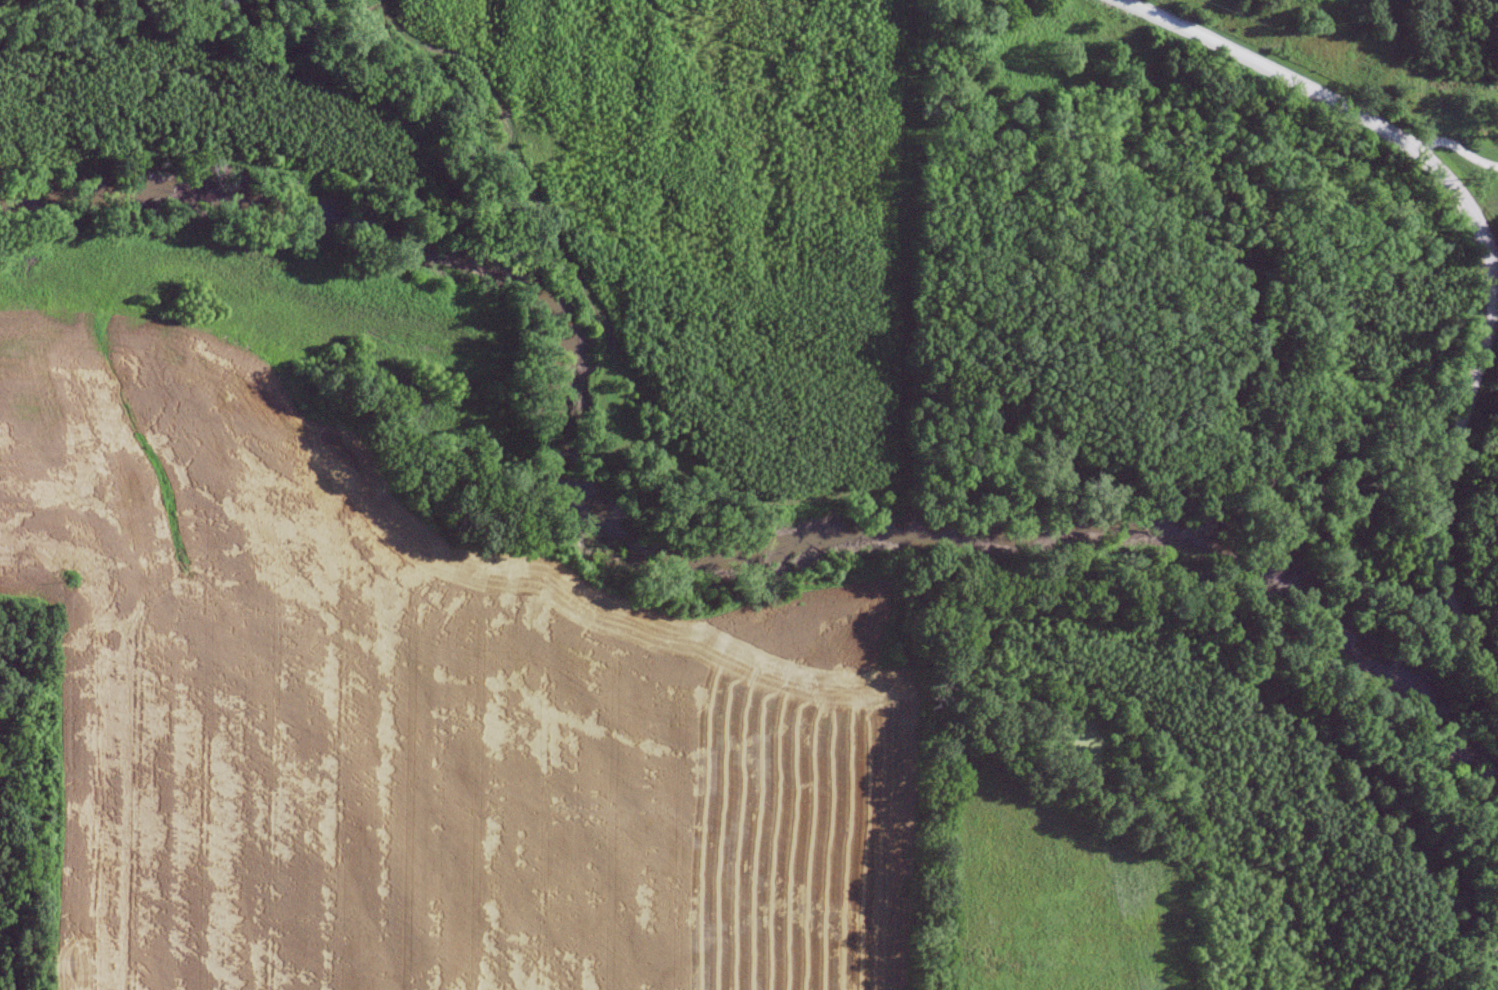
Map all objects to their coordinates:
road: (1453, 149)
road: (1478, 240)
road: (1495, 943)
road: (1462, 967)

